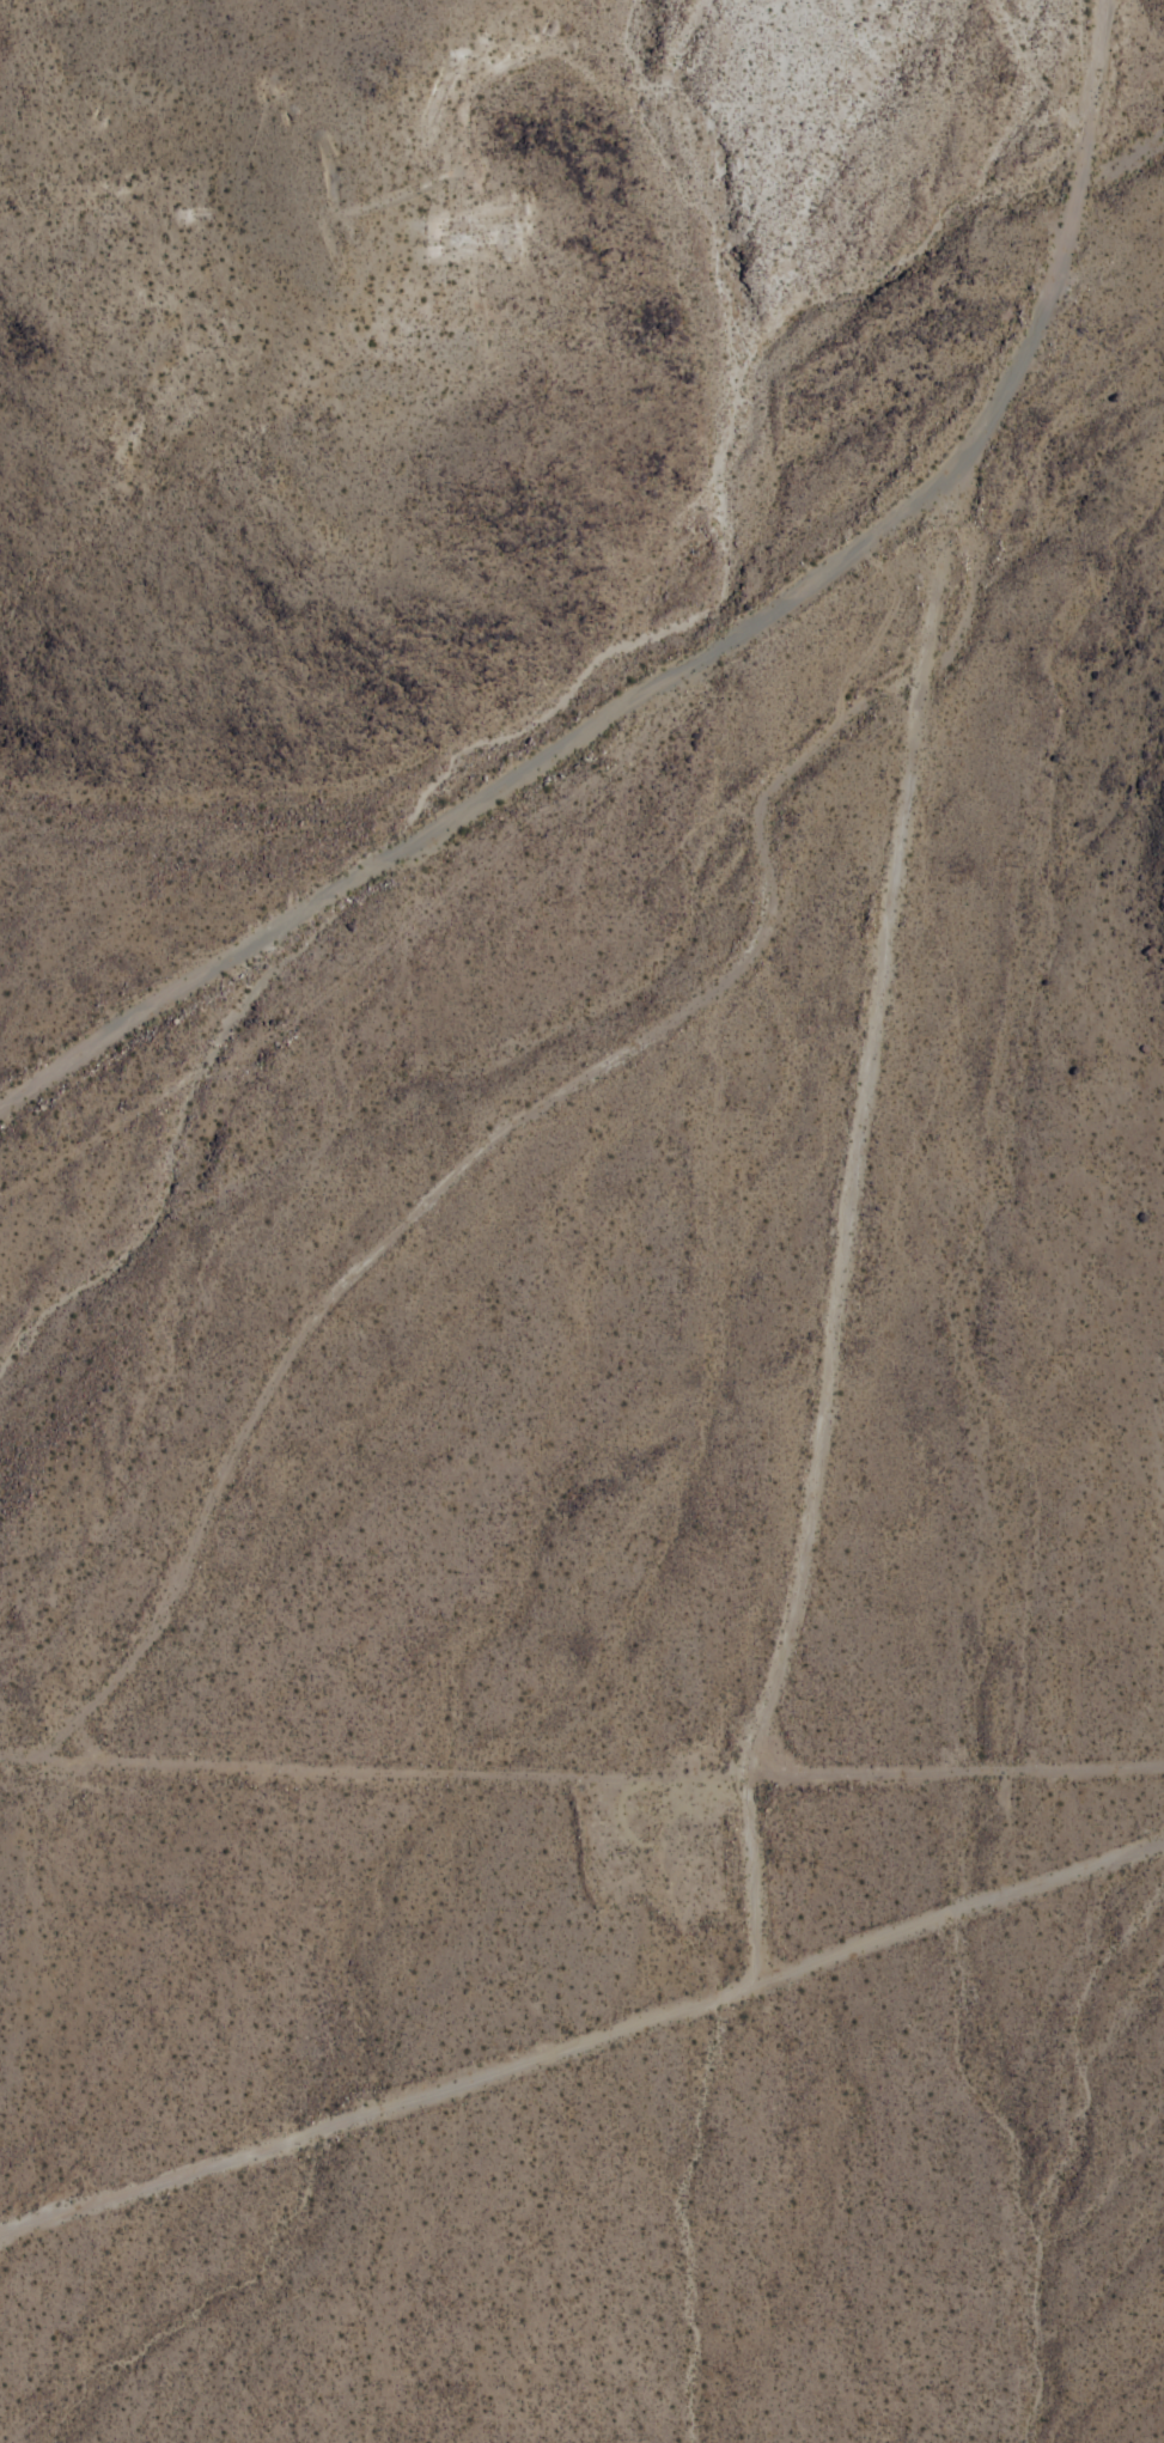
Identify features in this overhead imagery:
road: (878, 980)
road: (63, 1060)
road: (580, 1772)
road: (581, 2035)

